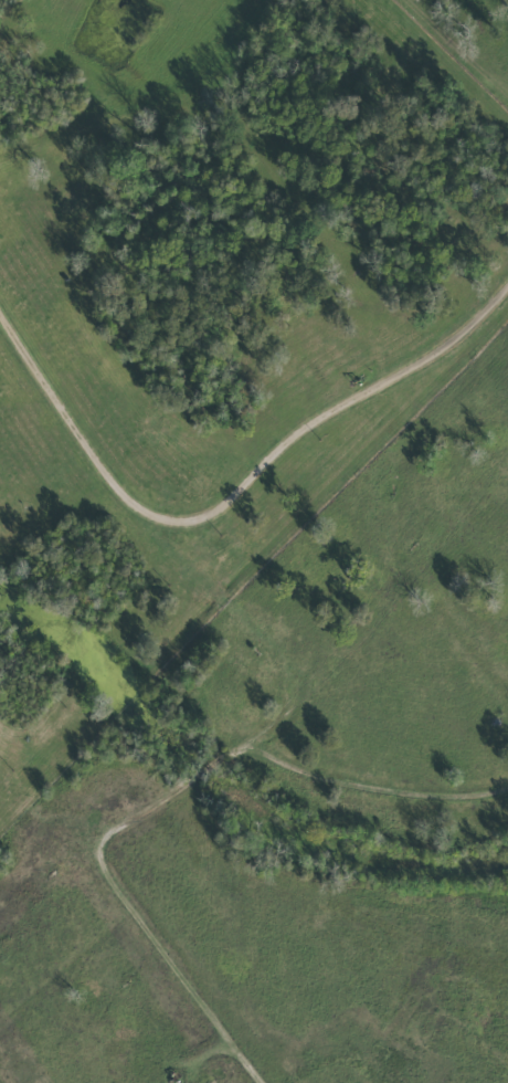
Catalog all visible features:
road: (452, 55)
road: (162, 112)
road: (331, 412)
road: (223, 606)
road: (369, 789)
road: (140, 923)

